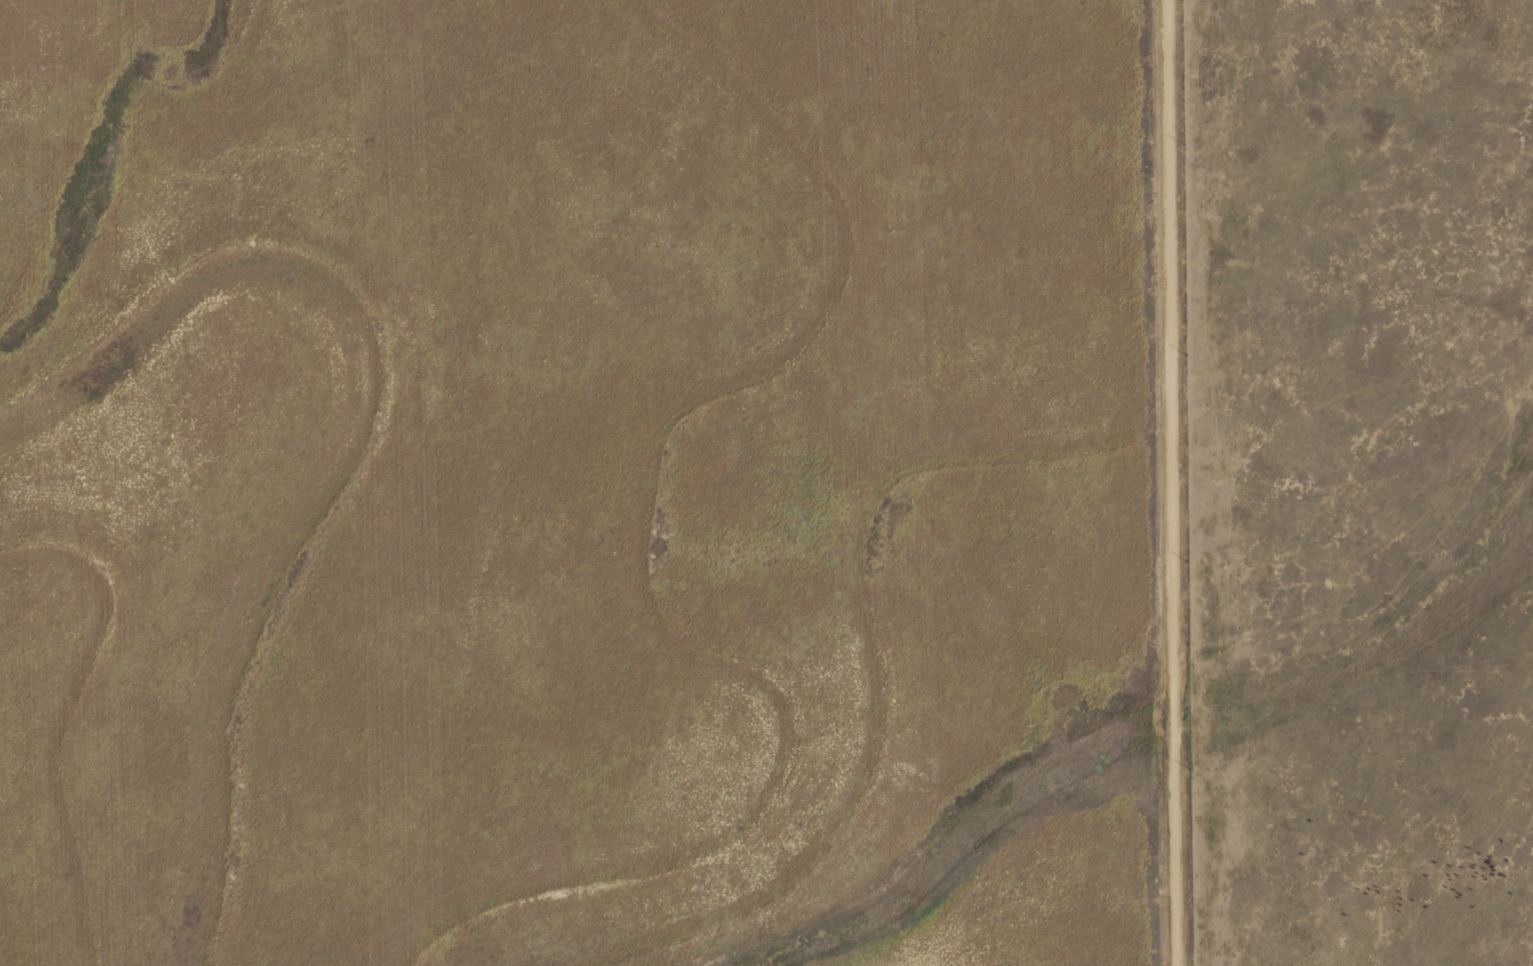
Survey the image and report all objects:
road: (1172, 483)

